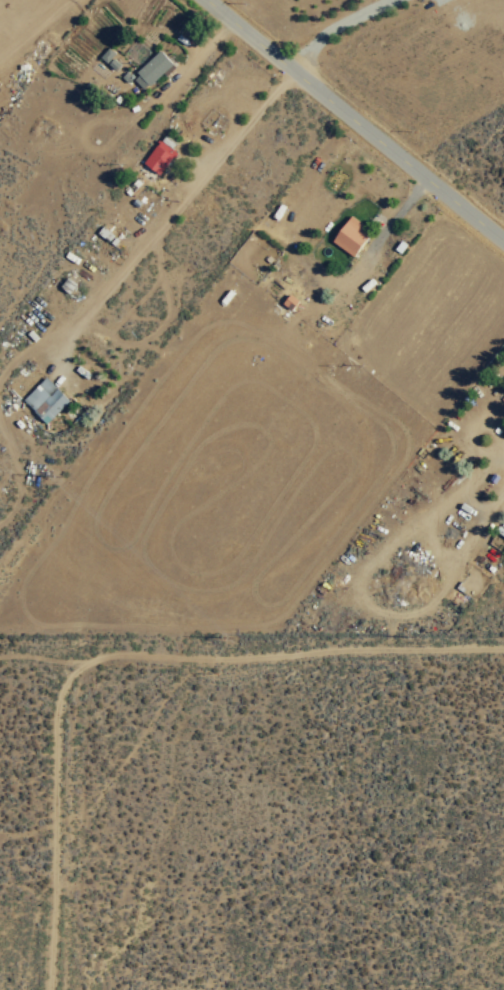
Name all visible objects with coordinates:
building: (153, 68)
road: (355, 118)
building: (159, 154)
building: (350, 235)
building: (289, 301)
building: (44, 399)

